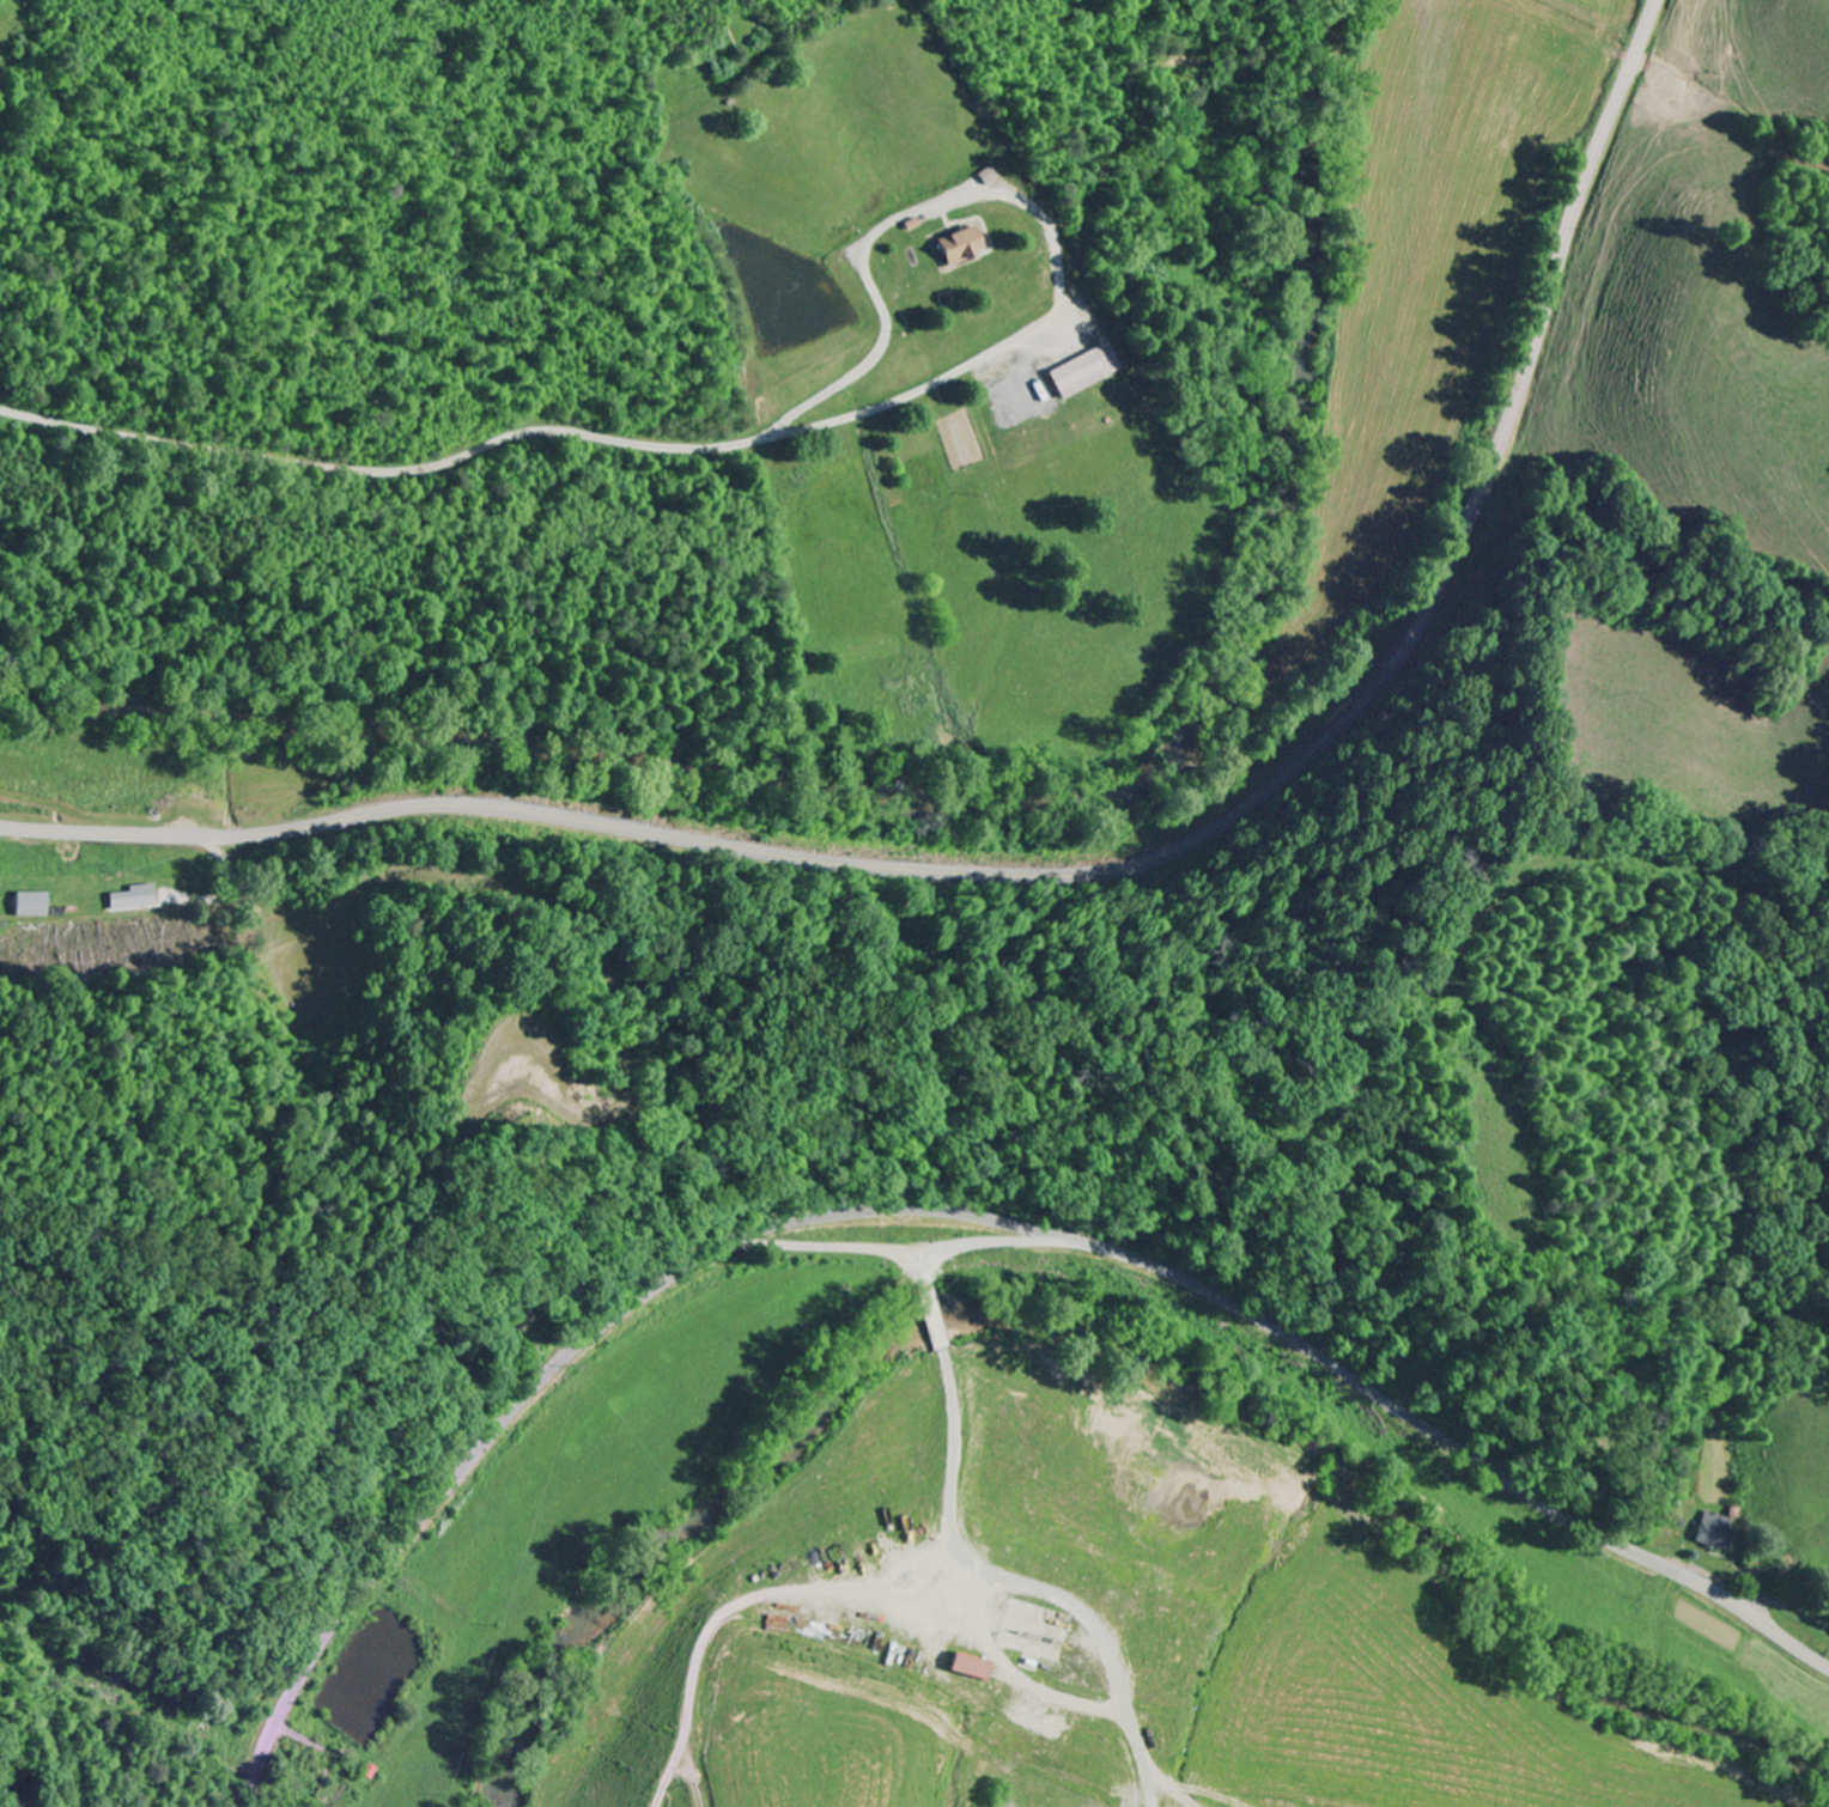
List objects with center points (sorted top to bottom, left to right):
building: (959, 245)
building: (1083, 371)
road: (542, 433)
river: (985, 810)
road: (1088, 870)
building: (133, 899)
building: (31, 905)
road: (966, 1218)
river: (1113, 1338)
building: (1714, 1532)
building: (967, 1667)

